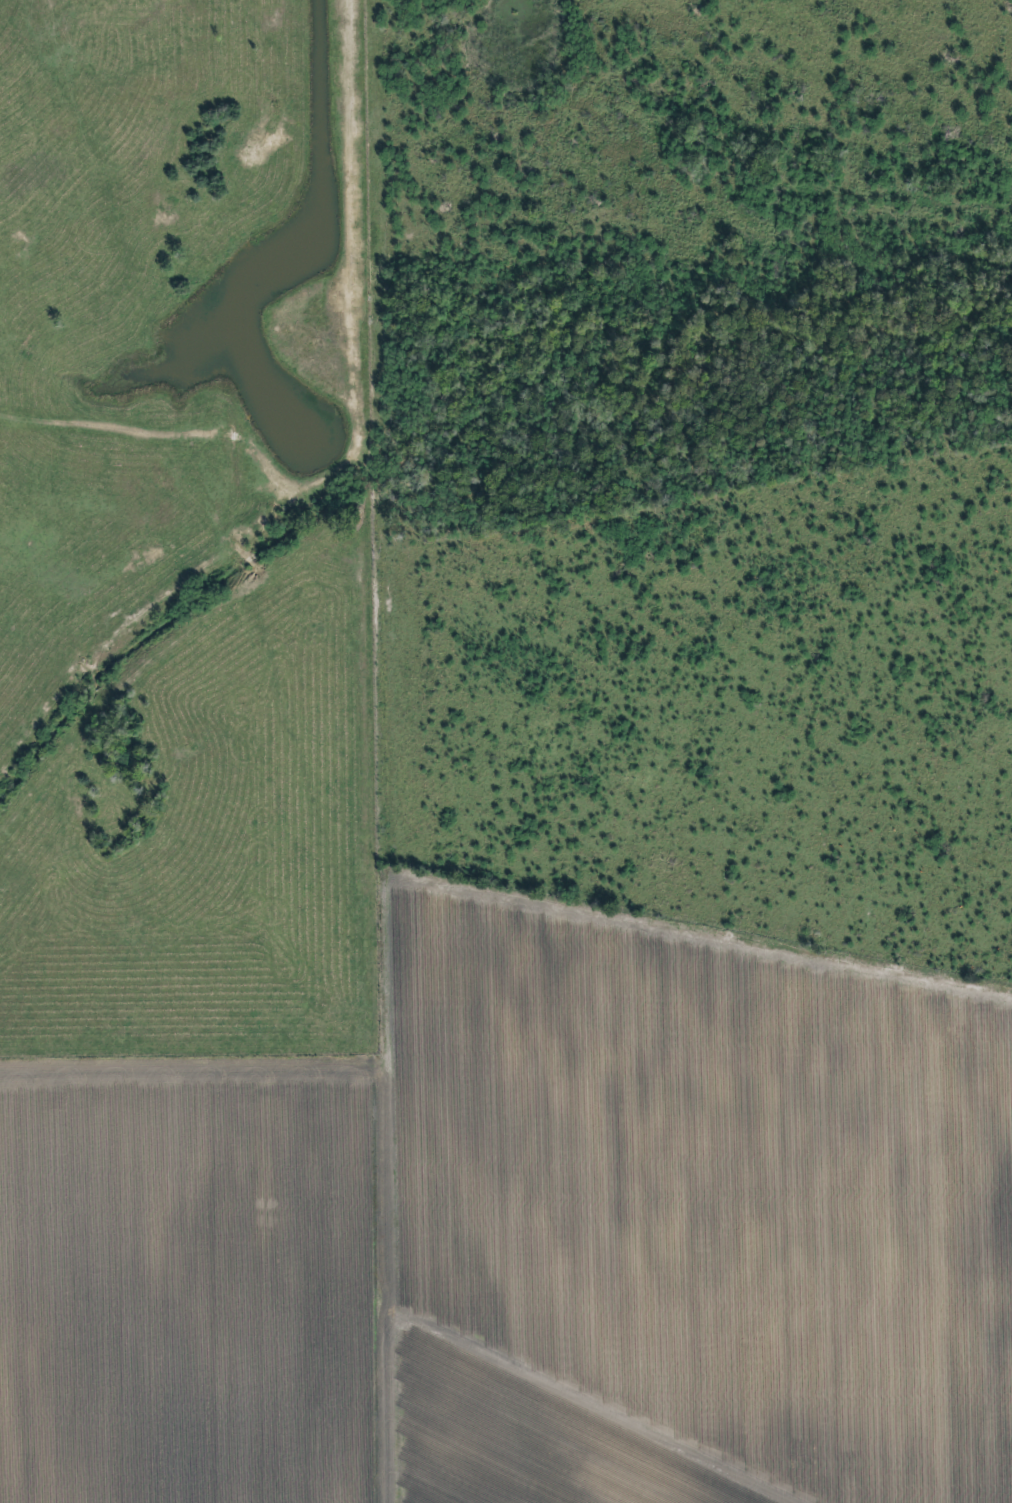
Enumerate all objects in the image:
road: (1010, 7)
road: (390, 989)

